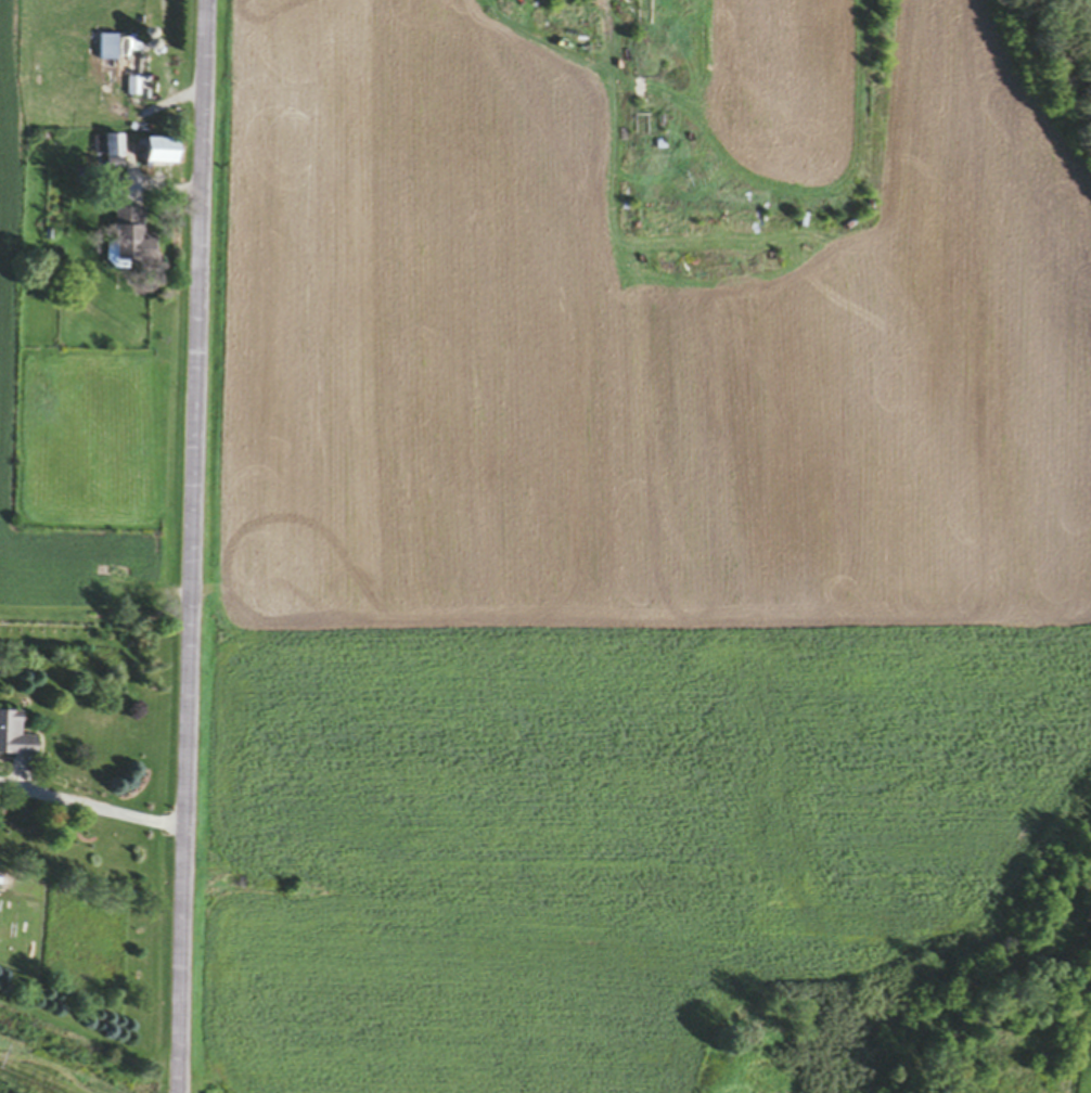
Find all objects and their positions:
building: (117, 49)
building: (133, 89)
building: (108, 150)
building: (164, 153)
building: (132, 240)
road: (194, 546)
building: (16, 736)
road: (90, 807)

